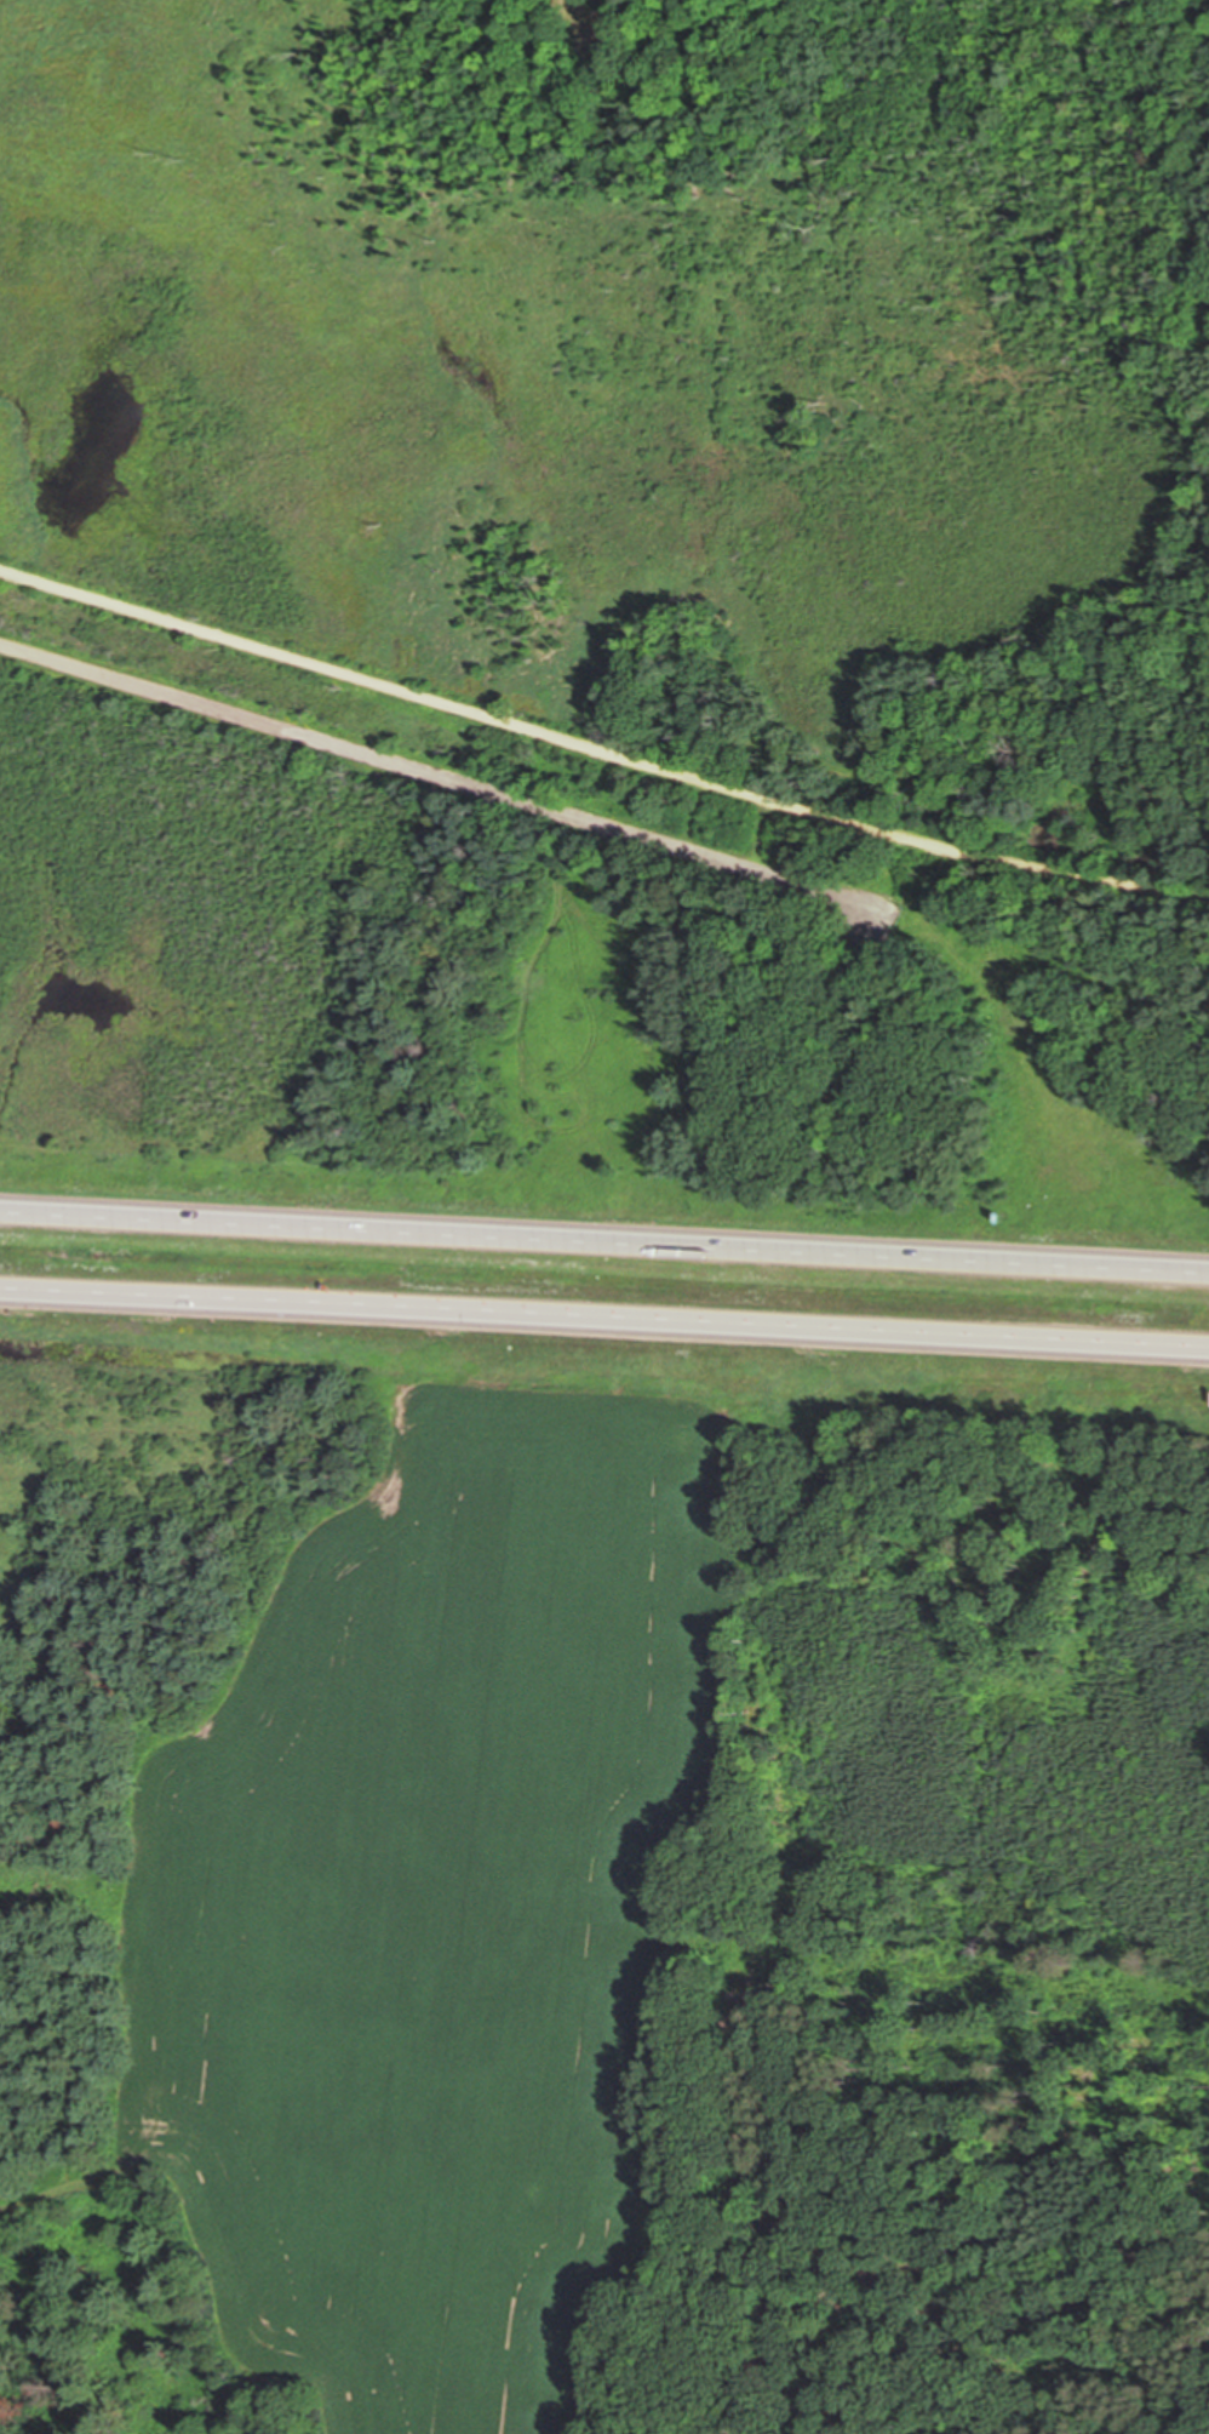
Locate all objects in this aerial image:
road: (353, 678)
road: (944, 703)
road: (374, 755)
road: (756, 835)
road: (956, 852)
parking lot: (751, 869)
road: (604, 1241)
road: (604, 1310)
crop: (449, 1896)

